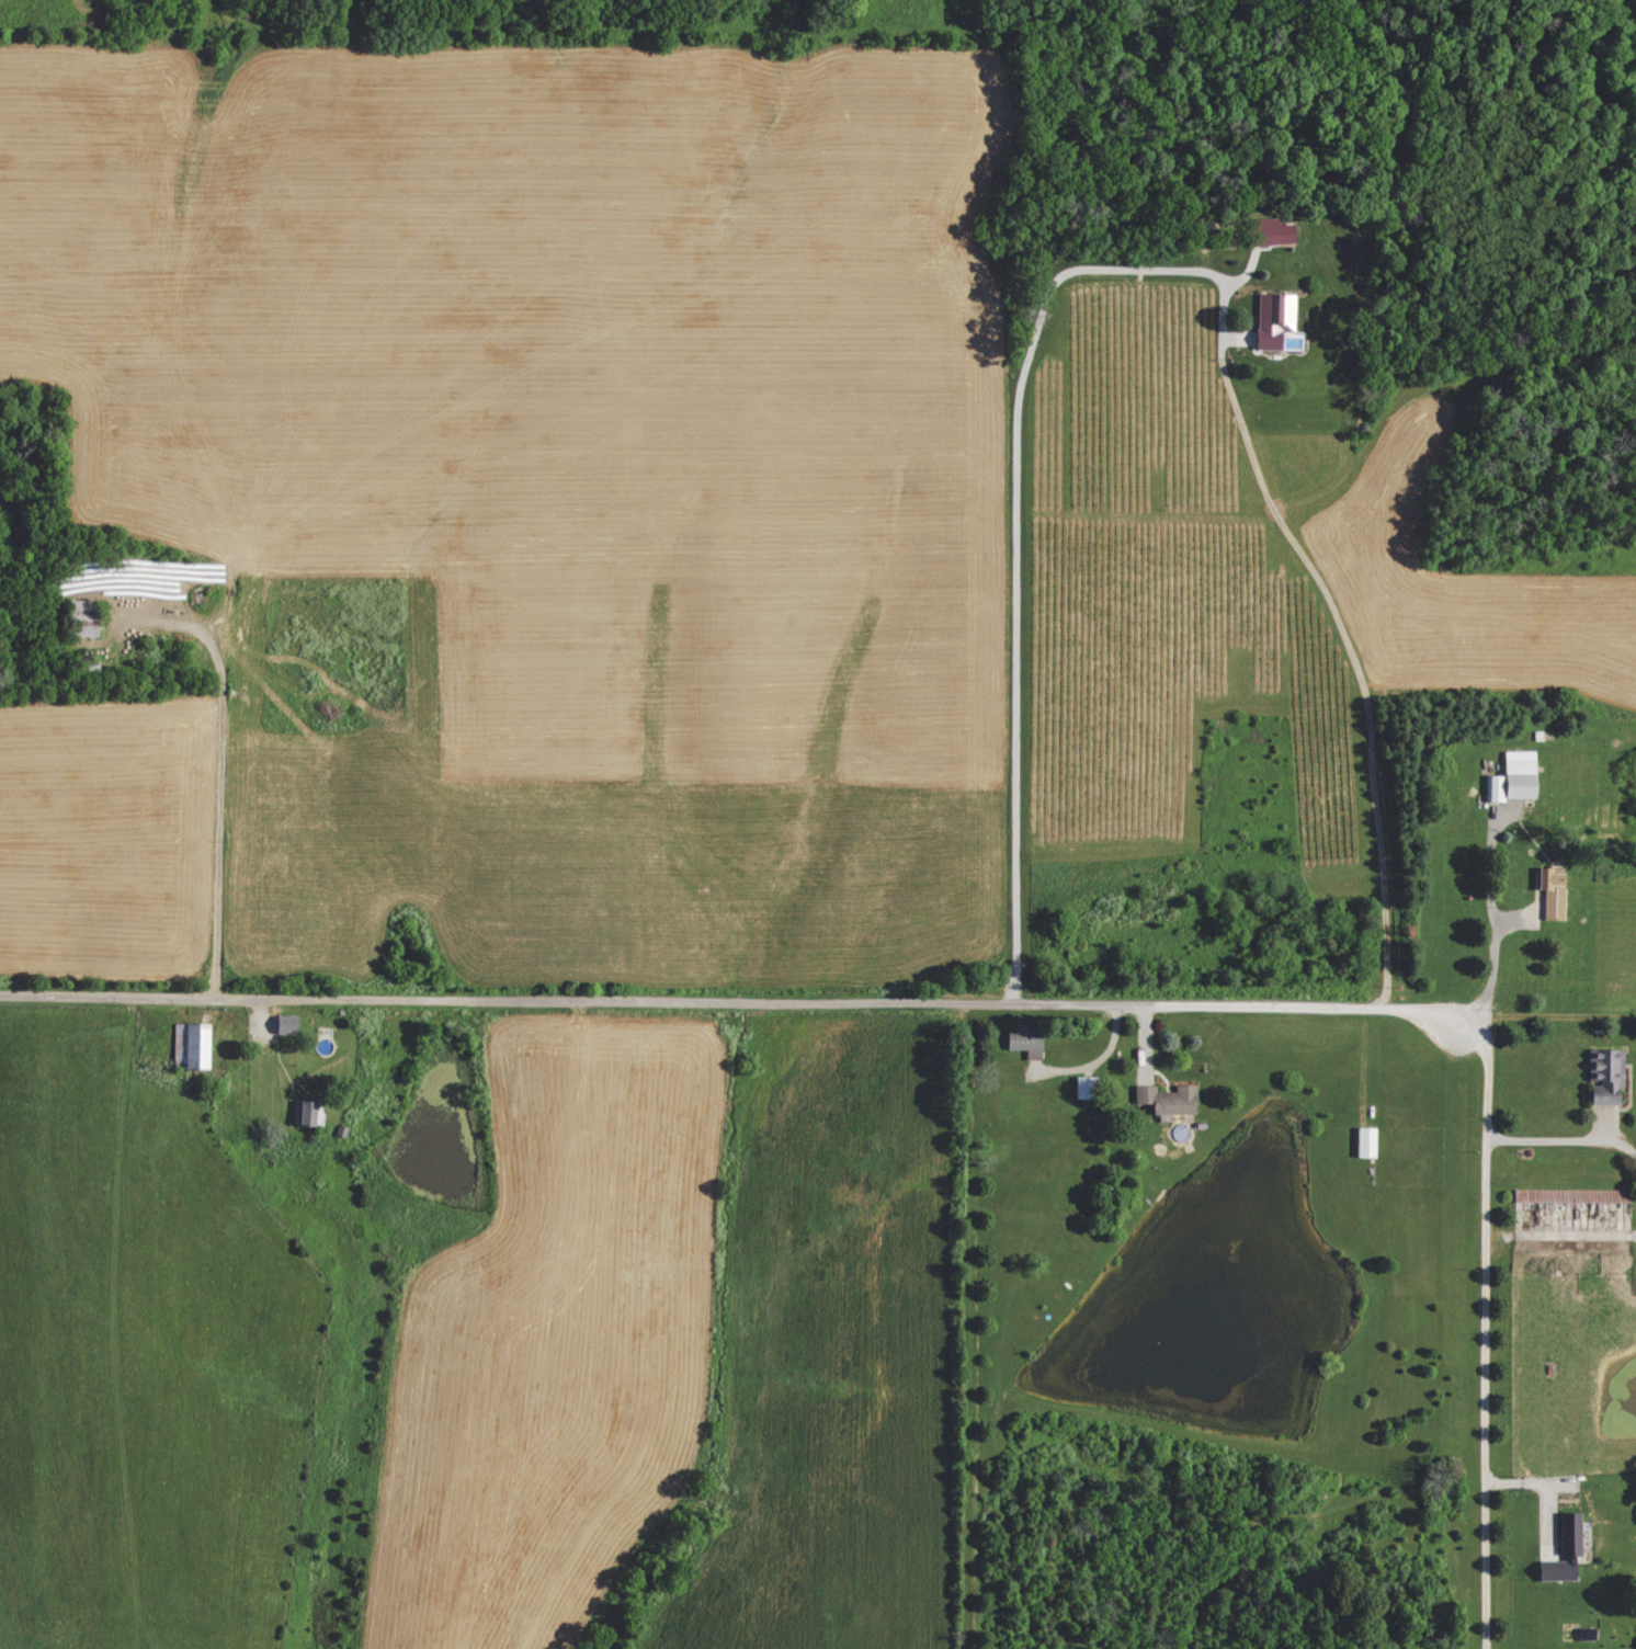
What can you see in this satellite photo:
building: (1261, 231)
building: (1274, 323)
road: (1013, 536)
building: (92, 616)
road: (1333, 637)
building: (1511, 777)
building: (1549, 890)
road: (1491, 923)
road: (736, 991)
building: (294, 1024)
building: (1023, 1042)
building: (198, 1046)
building: (1602, 1077)
building: (1083, 1087)
building: (1164, 1100)
building: (316, 1114)
road: (1564, 1141)
building: (1363, 1142)
road: (1486, 1333)
building: (1568, 1533)
building: (1557, 1569)

